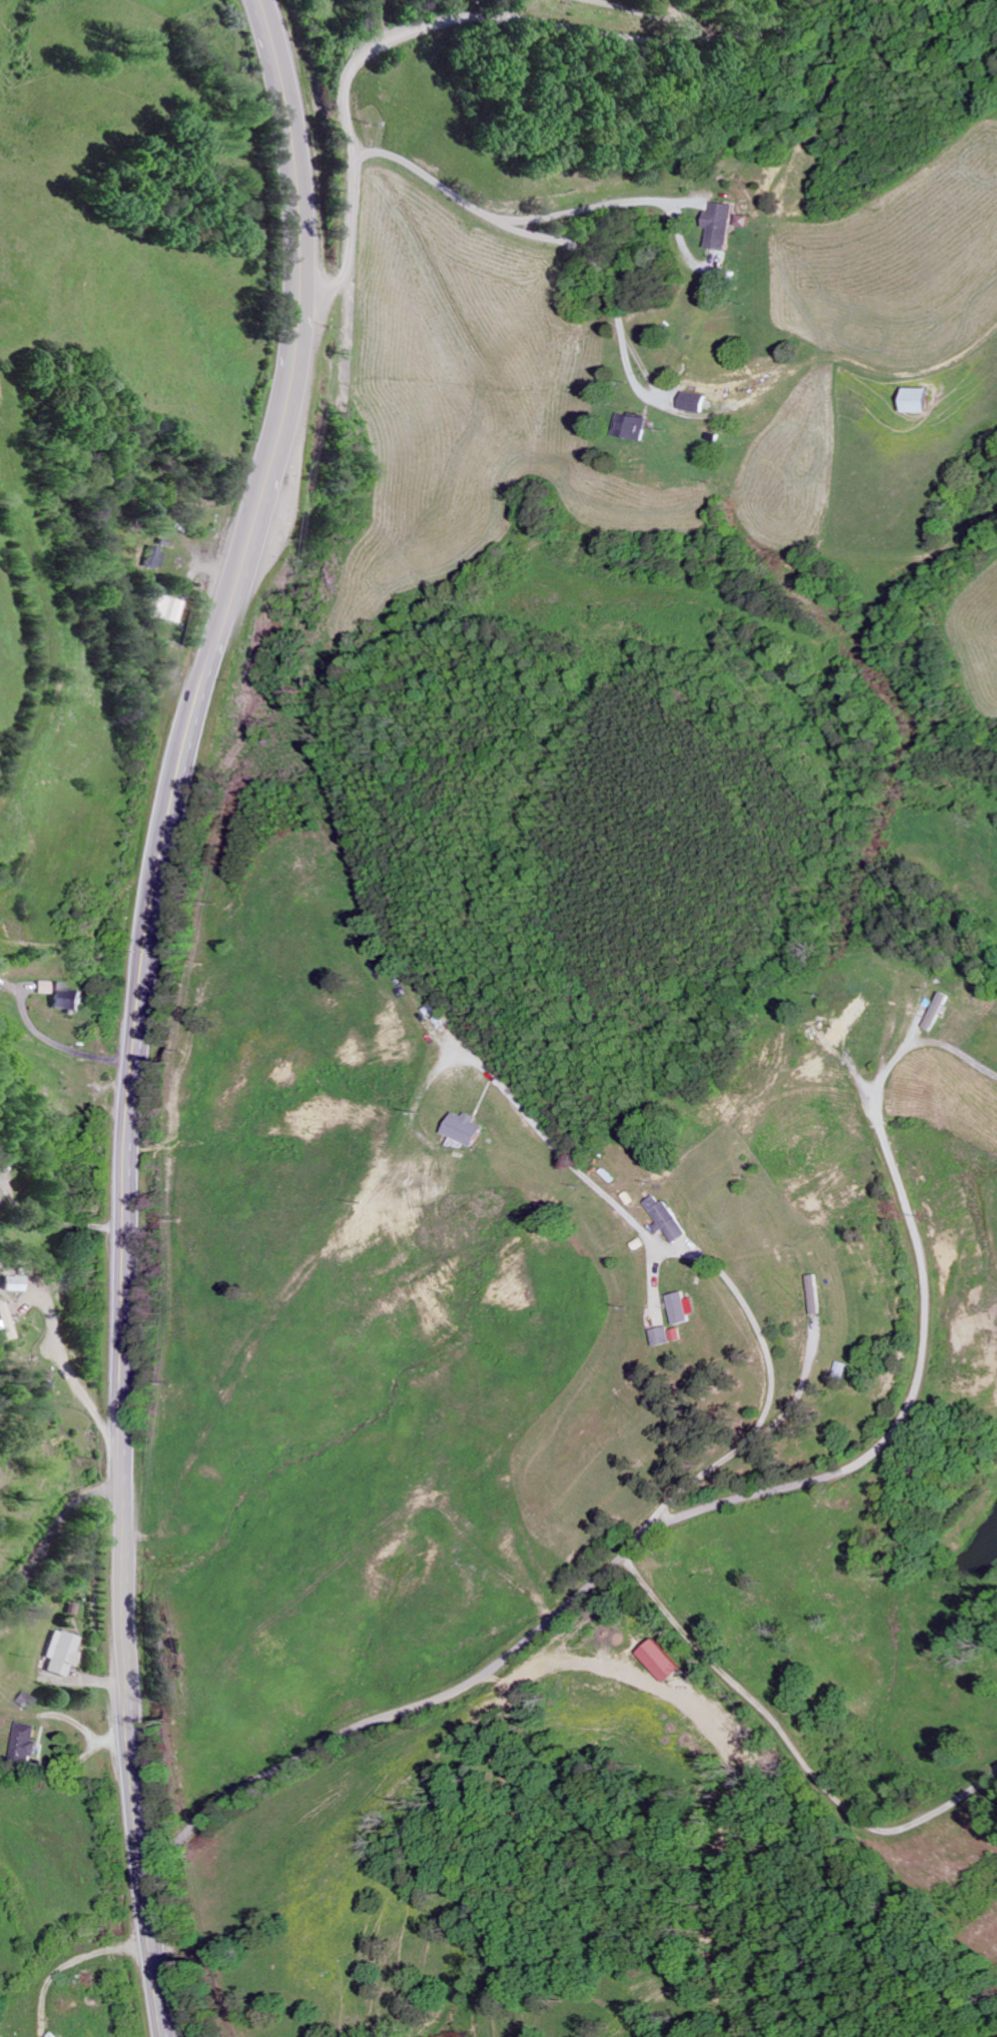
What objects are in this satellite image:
road: (759, 32)
road: (411, 33)
road: (603, 207)
building: (717, 225)
road: (529, 232)
building: (913, 399)
building: (690, 401)
building: (630, 426)
building: (153, 557)
building: (166, 608)
building: (64, 998)
road: (133, 1006)
building: (933, 1011)
building: (842, 1020)
road: (57, 1040)
road: (934, 1041)
building: (0, 1191)
building: (661, 1220)
road: (707, 1265)
building: (15, 1283)
building: (677, 1309)
building: (9, 1319)
building: (658, 1337)
road: (75, 1371)
road: (801, 1390)
road: (49, 1522)
road: (659, 1529)
building: (58, 1652)
building: (658, 1659)
road: (551, 1663)
building: (25, 1740)
road: (791, 1742)
road: (715, 1837)
road: (66, 1961)
road: (169, 2024)
building: (50, 2035)

